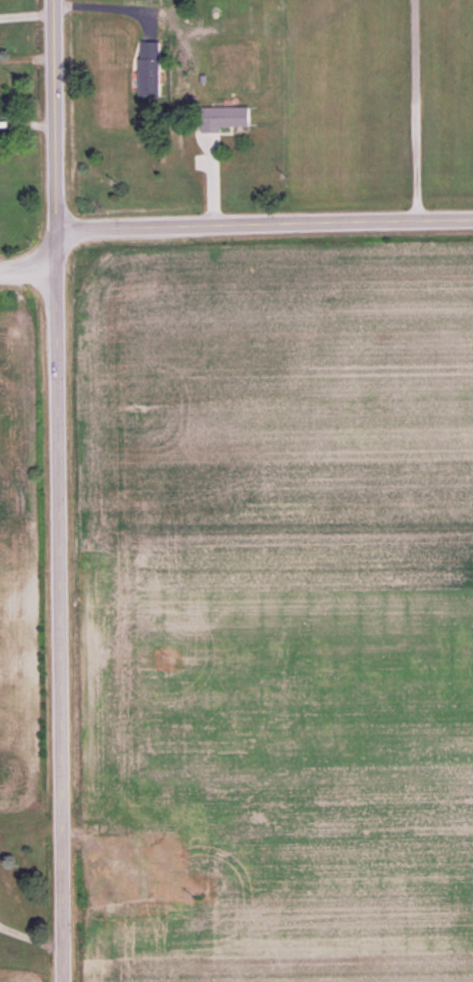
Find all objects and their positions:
building: (148, 68)
road: (418, 110)
building: (223, 117)
road: (260, 224)
road: (27, 261)
road: (57, 491)

